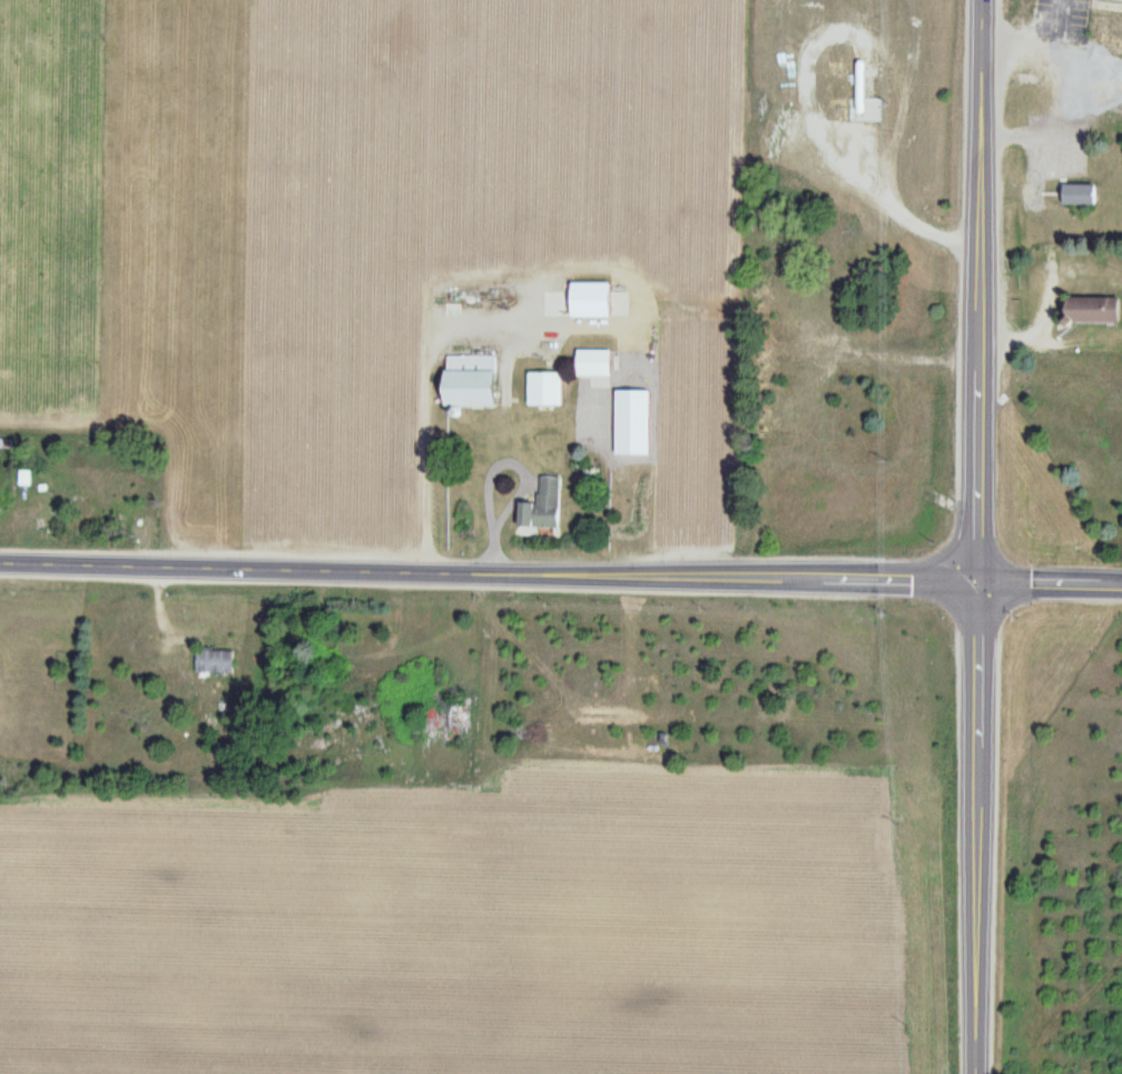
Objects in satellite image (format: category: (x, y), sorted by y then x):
building: (1120, 0)
building: (1104, 31)
building: (1080, 195)
building: (594, 299)
building: (1096, 309)
building: (597, 363)
building: (473, 383)
building: (547, 388)
building: (542, 506)
road: (975, 536)
road: (488, 571)
traffic signals: (975, 582)
road: (1049, 584)
building: (215, 662)
building: (444, 719)

